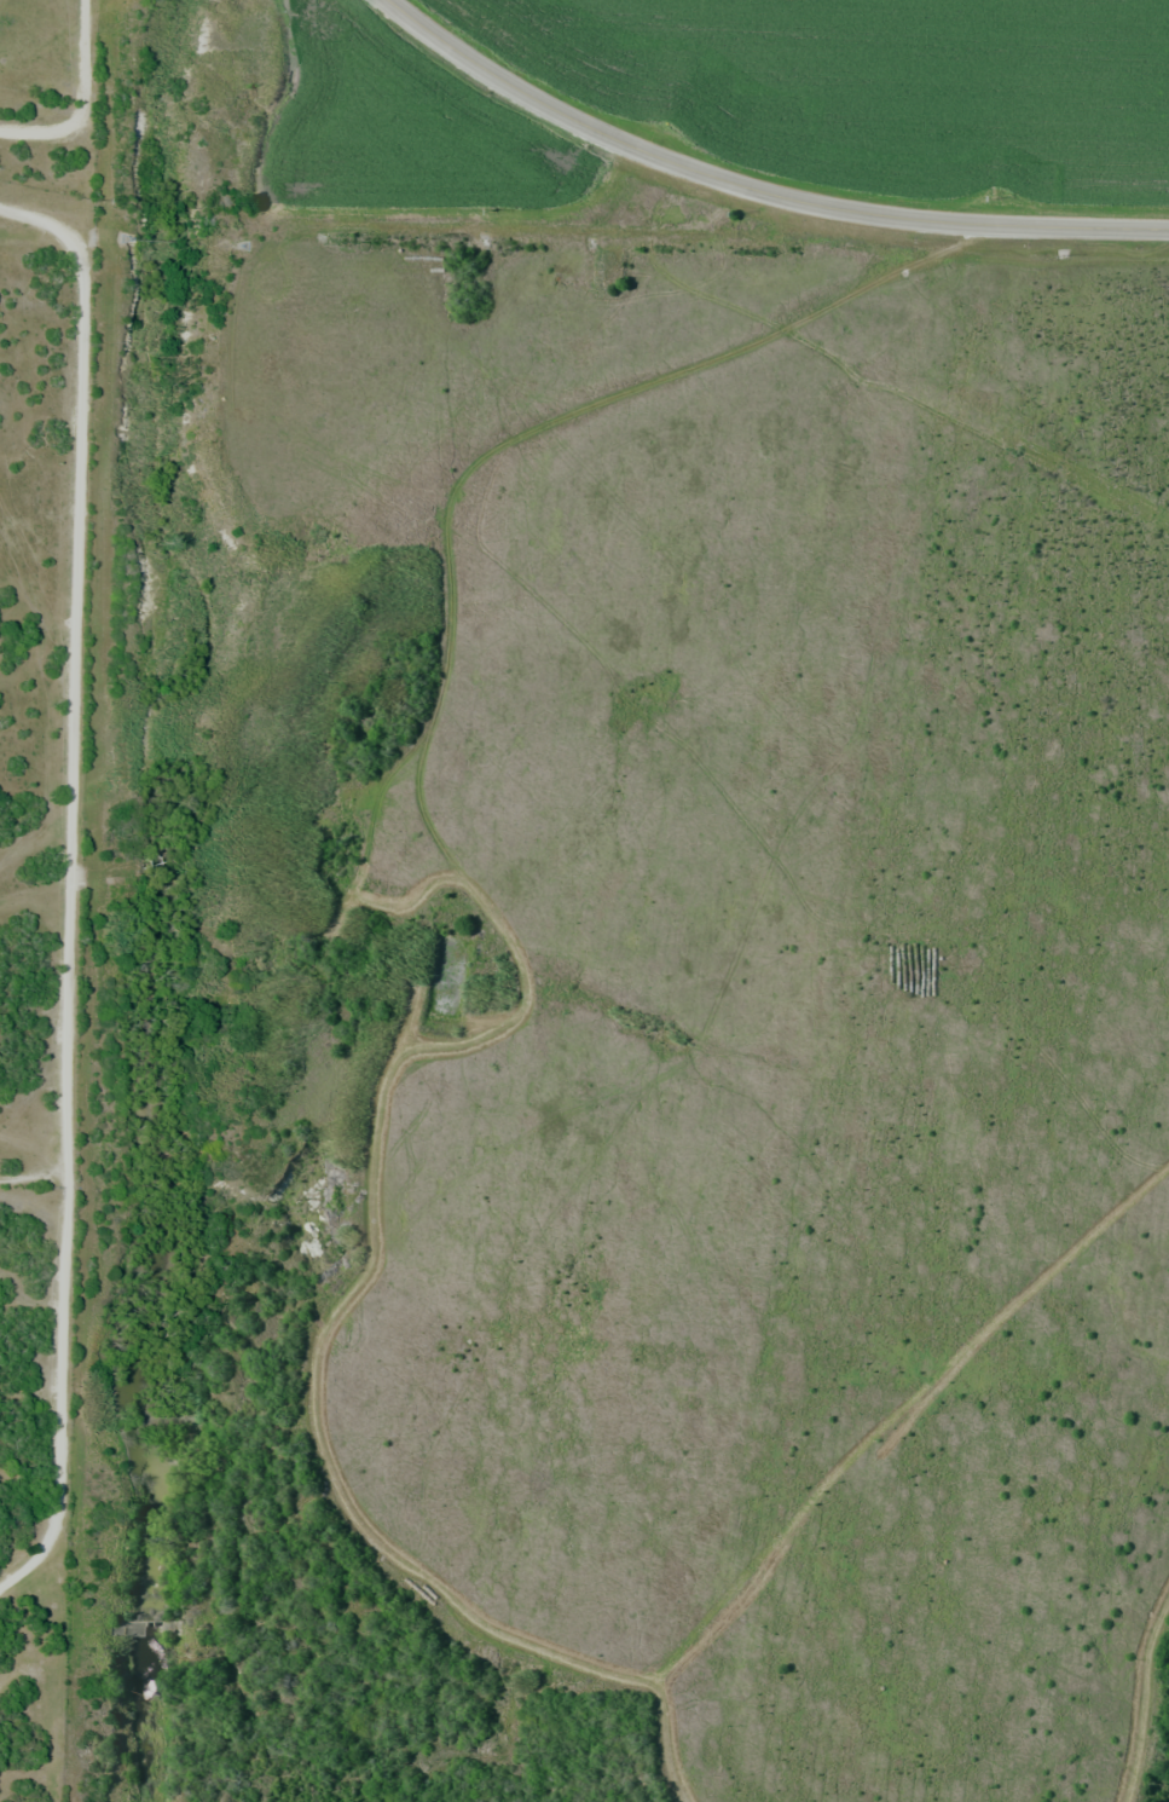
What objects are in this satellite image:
road: (82, 97)
road: (750, 192)
road: (73, 886)

